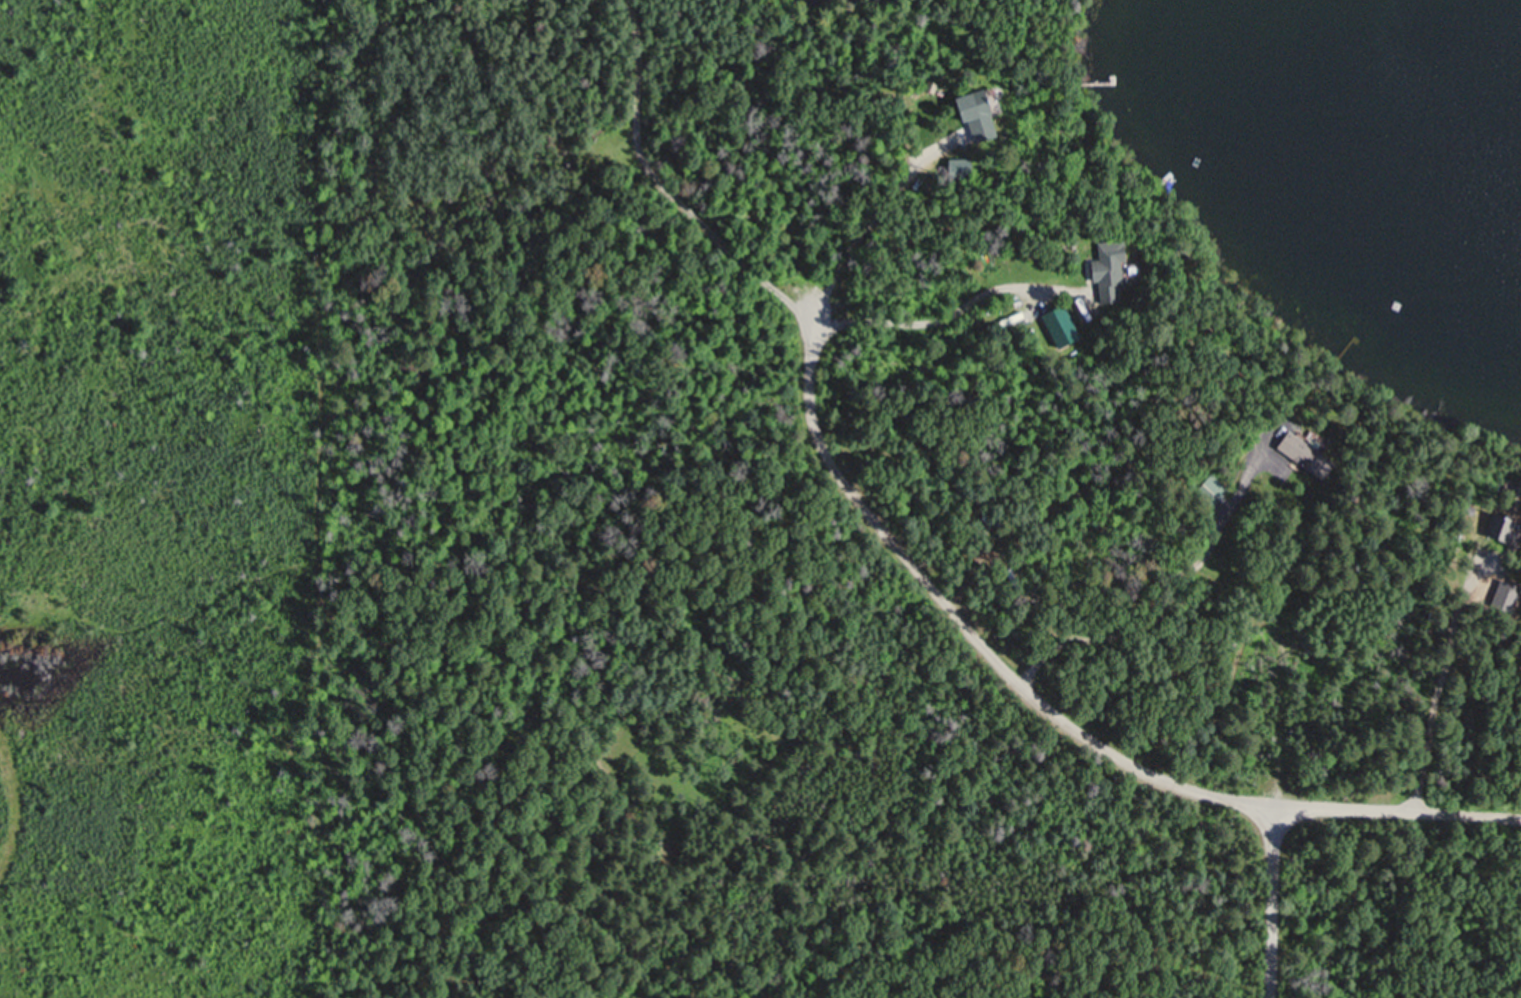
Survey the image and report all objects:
road: (756, 269)
building: (1120, 271)
building: (1071, 329)
building: (1311, 456)
building: (1508, 530)
road: (1145, 613)
road: (1054, 713)
road: (1422, 723)
road: (1271, 903)

